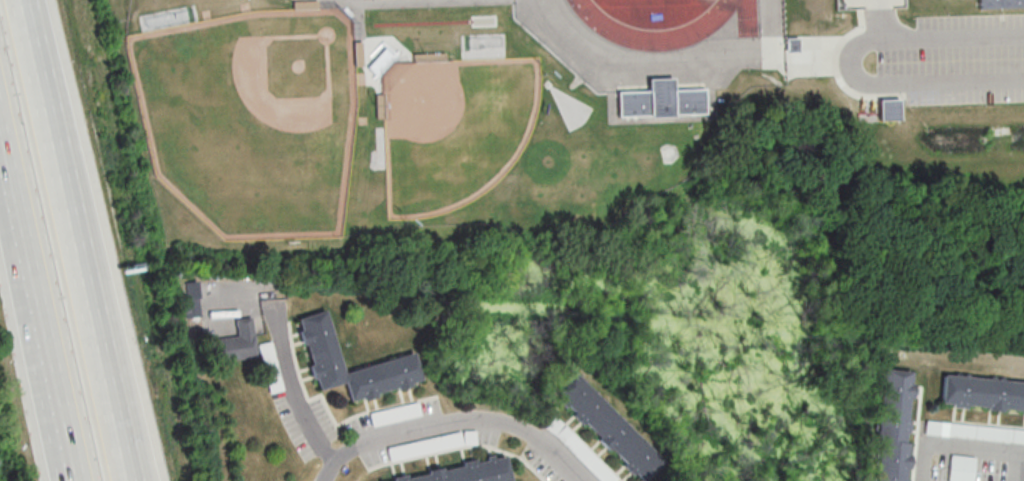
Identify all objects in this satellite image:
building: (1001, 4)
track: (697, 25)
parking lot: (958, 59)
road: (849, 62)
building: (658, 100)
building: (890, 109)
park: (250, 118)
park: (455, 129)
road: (88, 240)
road: (39, 299)
building: (191, 307)
building: (233, 343)
building: (398, 361)
road: (292, 390)
building: (983, 392)
road: (453, 422)
building: (895, 424)
building: (608, 426)
building: (975, 432)
road: (955, 445)
road: (1022, 458)
building: (962, 468)
building: (466, 472)

